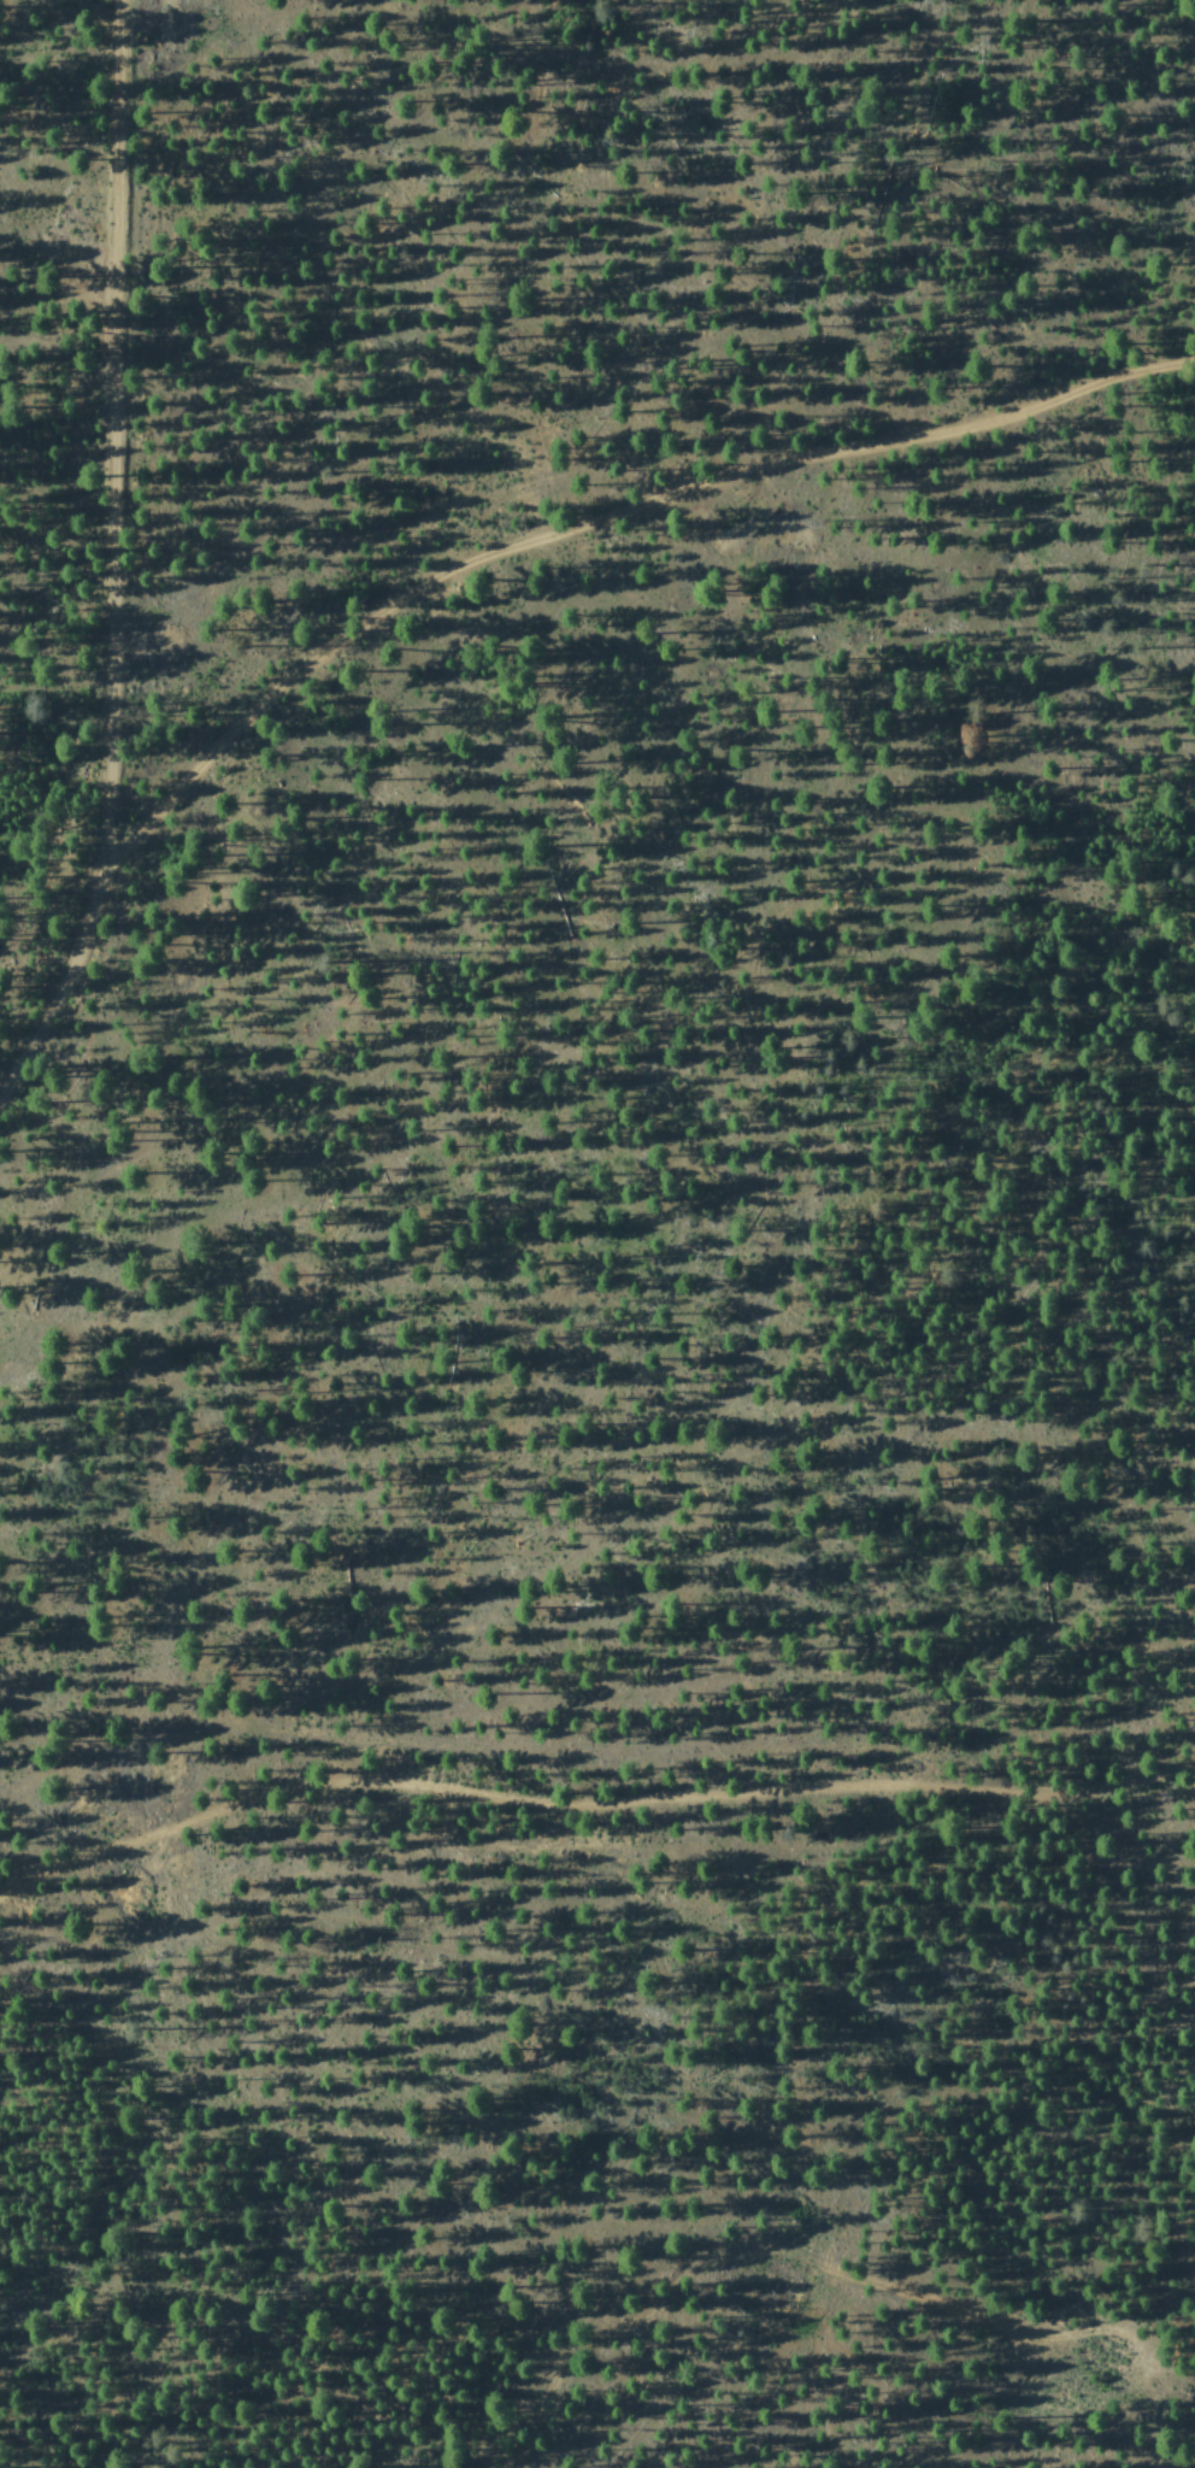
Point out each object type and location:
road: (846, 496)
road: (441, 801)

